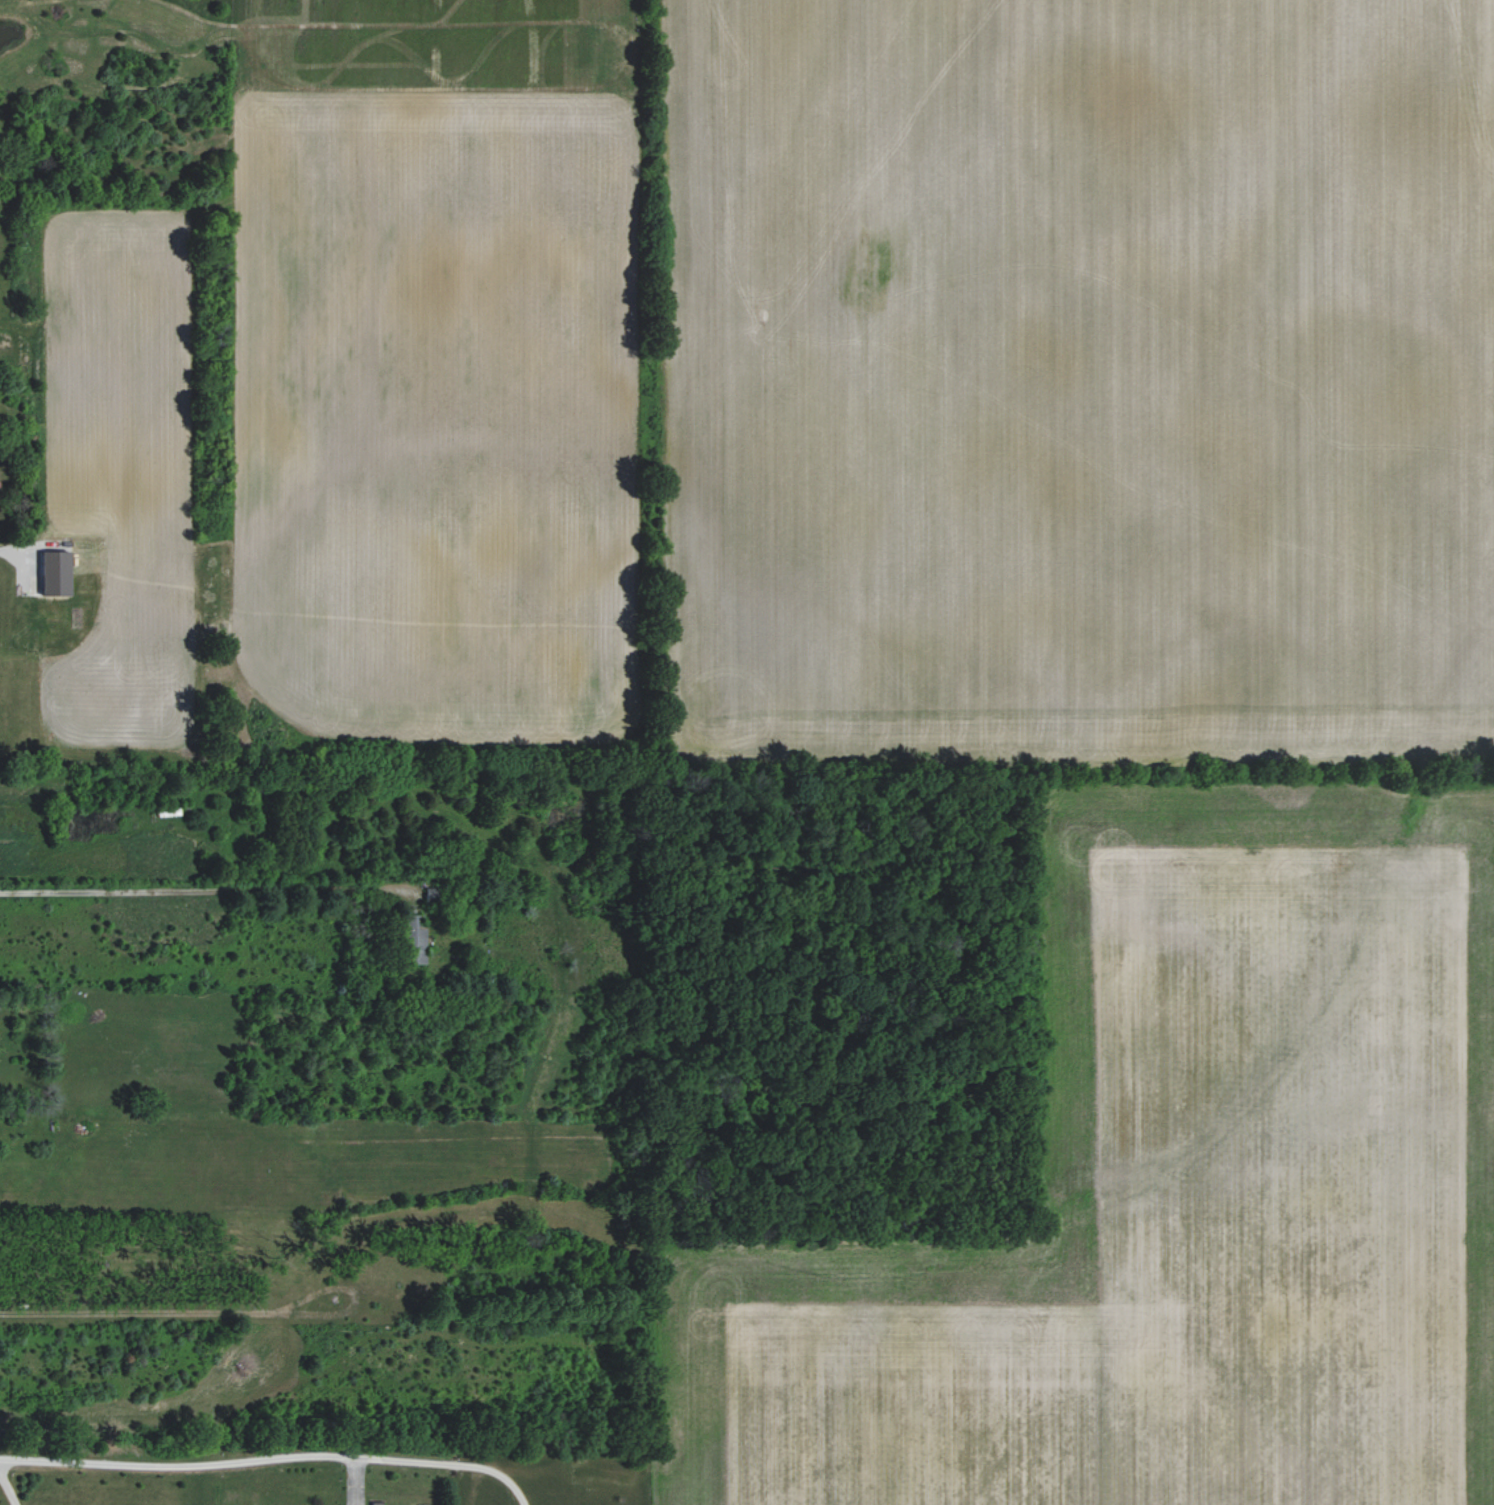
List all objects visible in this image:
building: (56, 573)
road: (214, 889)
building: (433, 895)
building: (415, 939)
crop: (1172, 1189)
road: (269, 1459)
road: (7, 1492)

